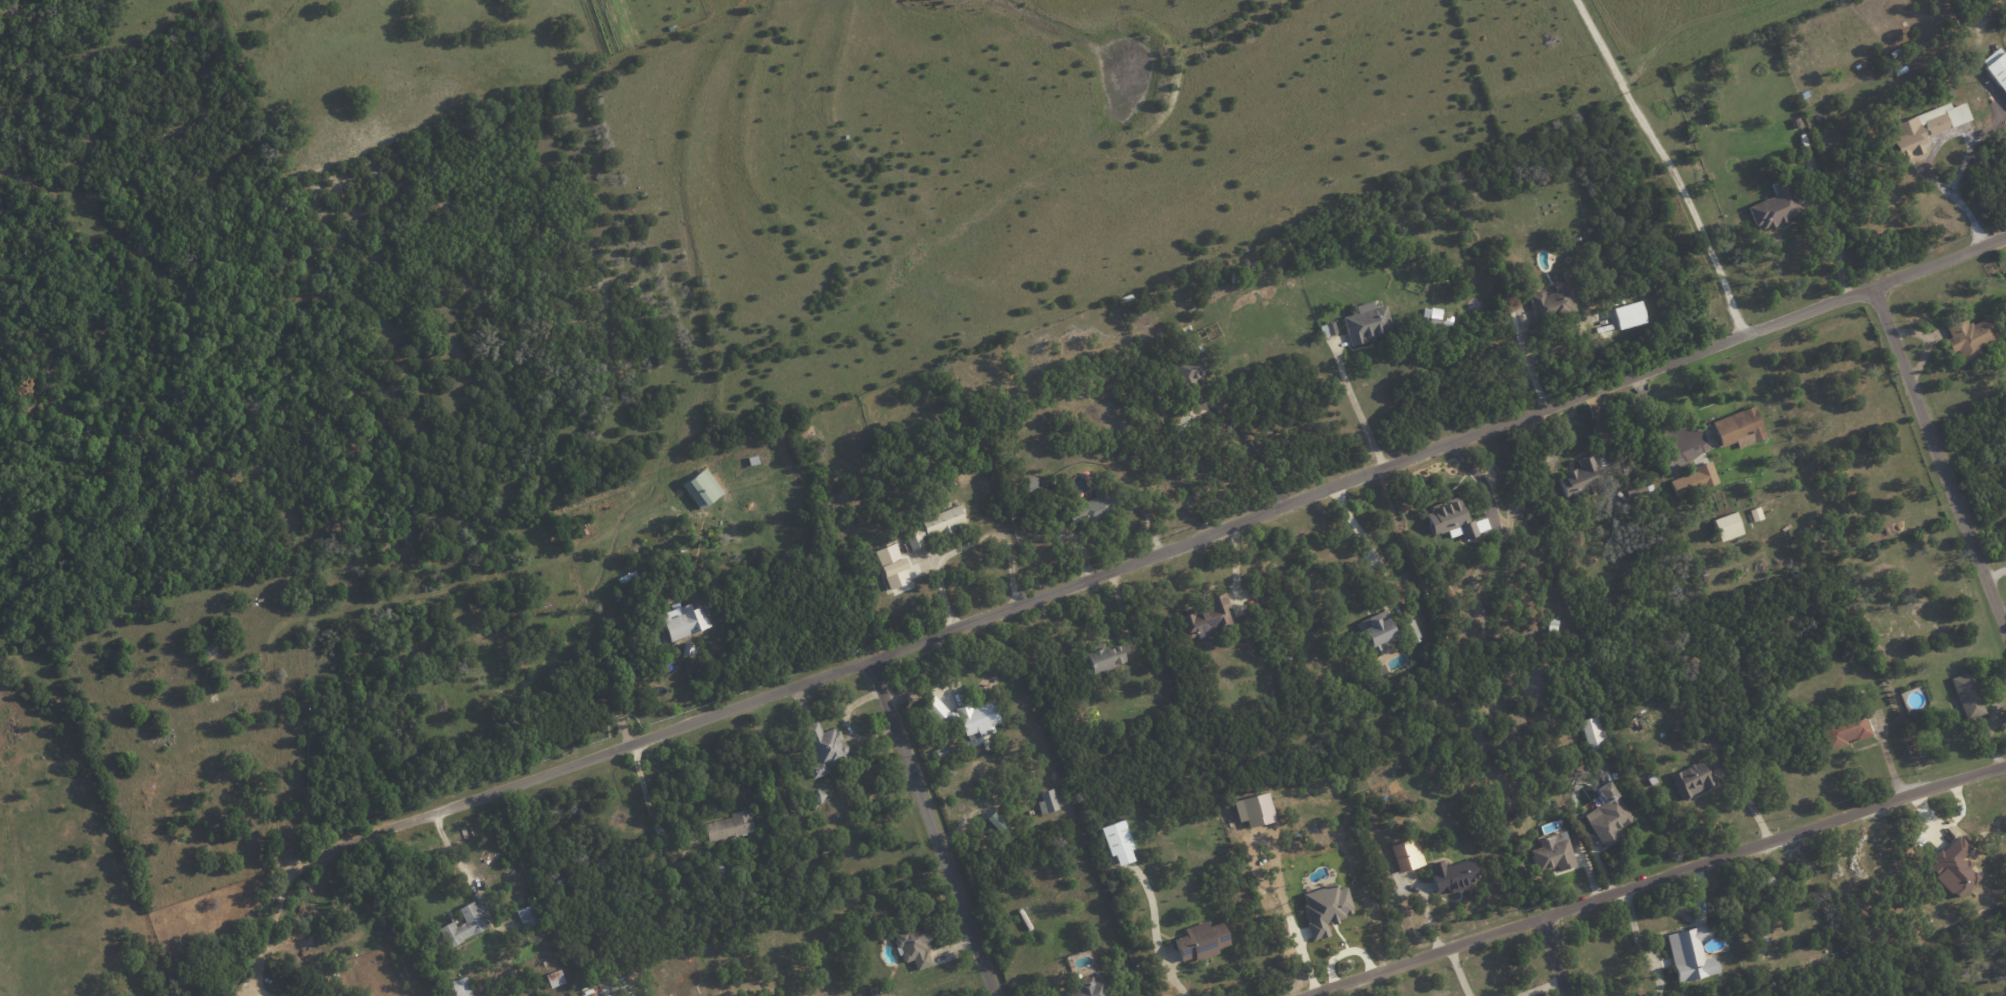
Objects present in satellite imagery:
building: (1996, 67)
building: (1923, 128)
road: (1970, 145)
road: (1667, 164)
building: (1775, 205)
road: (1836, 247)
building: (1549, 302)
building: (1628, 315)
building: (1431, 316)
building: (1366, 322)
building: (1326, 329)
building: (1968, 336)
building: (1190, 366)
road: (1356, 408)
building: (1738, 428)
road: (1247, 444)
road: (1939, 463)
building: (1579, 479)
building: (1694, 480)
building: (1031, 484)
building: (701, 488)
building: (1092, 506)
building: (1754, 514)
building: (1452, 519)
building: (936, 525)
building: (1726, 526)
road: (1362, 538)
road: (970, 543)
road: (1153, 555)
building: (892, 566)
building: (1205, 617)
building: (683, 620)
building: (1552, 627)
building: (1376, 630)
building: (1411, 631)
building: (1104, 658)
building: (1966, 694)
building: (936, 710)
building: (977, 720)
building: (1846, 730)
building: (1594, 733)
building: (824, 748)
building: (1692, 779)
road: (644, 792)
building: (817, 796)
building: (1046, 802)
building: (1253, 810)
building: (1606, 814)
building: (729, 826)
road: (931, 827)
building: (1117, 841)
building: (1552, 853)
building: (1406, 854)
road: (459, 866)
building: (1952, 867)
building: (1451, 875)
road: (1657, 881)
building: (1763, 882)
building: (1324, 908)
building: (527, 916)
building: (462, 925)
road: (268, 927)
building: (1200, 941)
road: (1647, 944)
building: (913, 945)
building: (1689, 954)
road: (1554, 957)
road: (1460, 973)
building: (554, 978)
building: (460, 987)
building: (1085, 988)
road: (1542, 989)
building: (606, 995)

